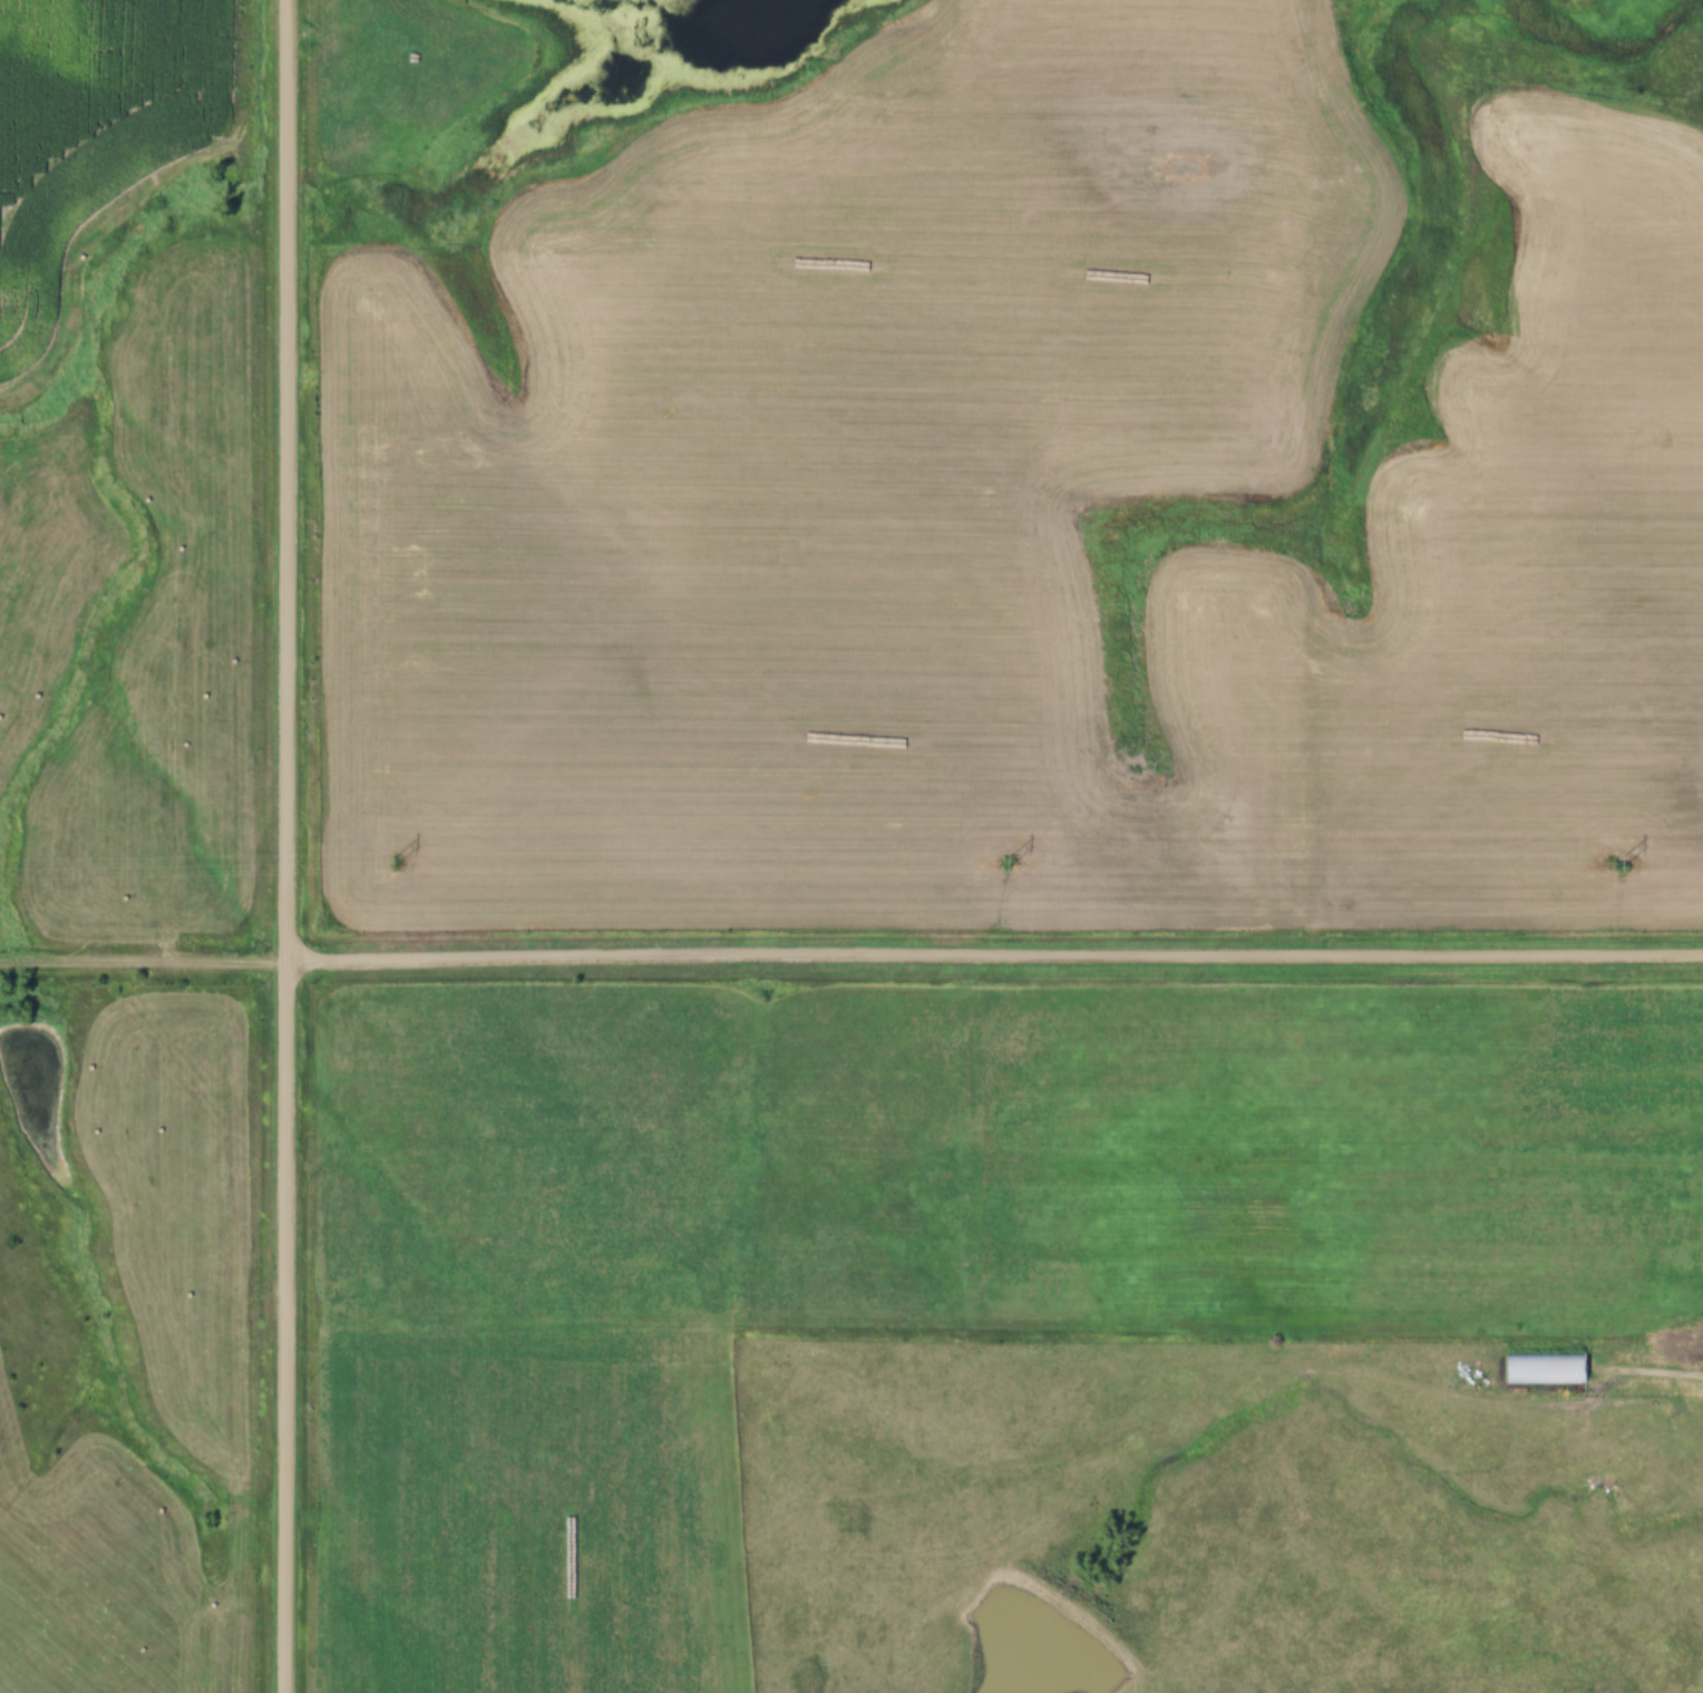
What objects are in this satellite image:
road: (283, 846)
power tower: (390, 863)
power tower: (1004, 863)
power tower: (1618, 863)
road: (992, 954)
road: (142, 959)
building: (1543, 1366)

